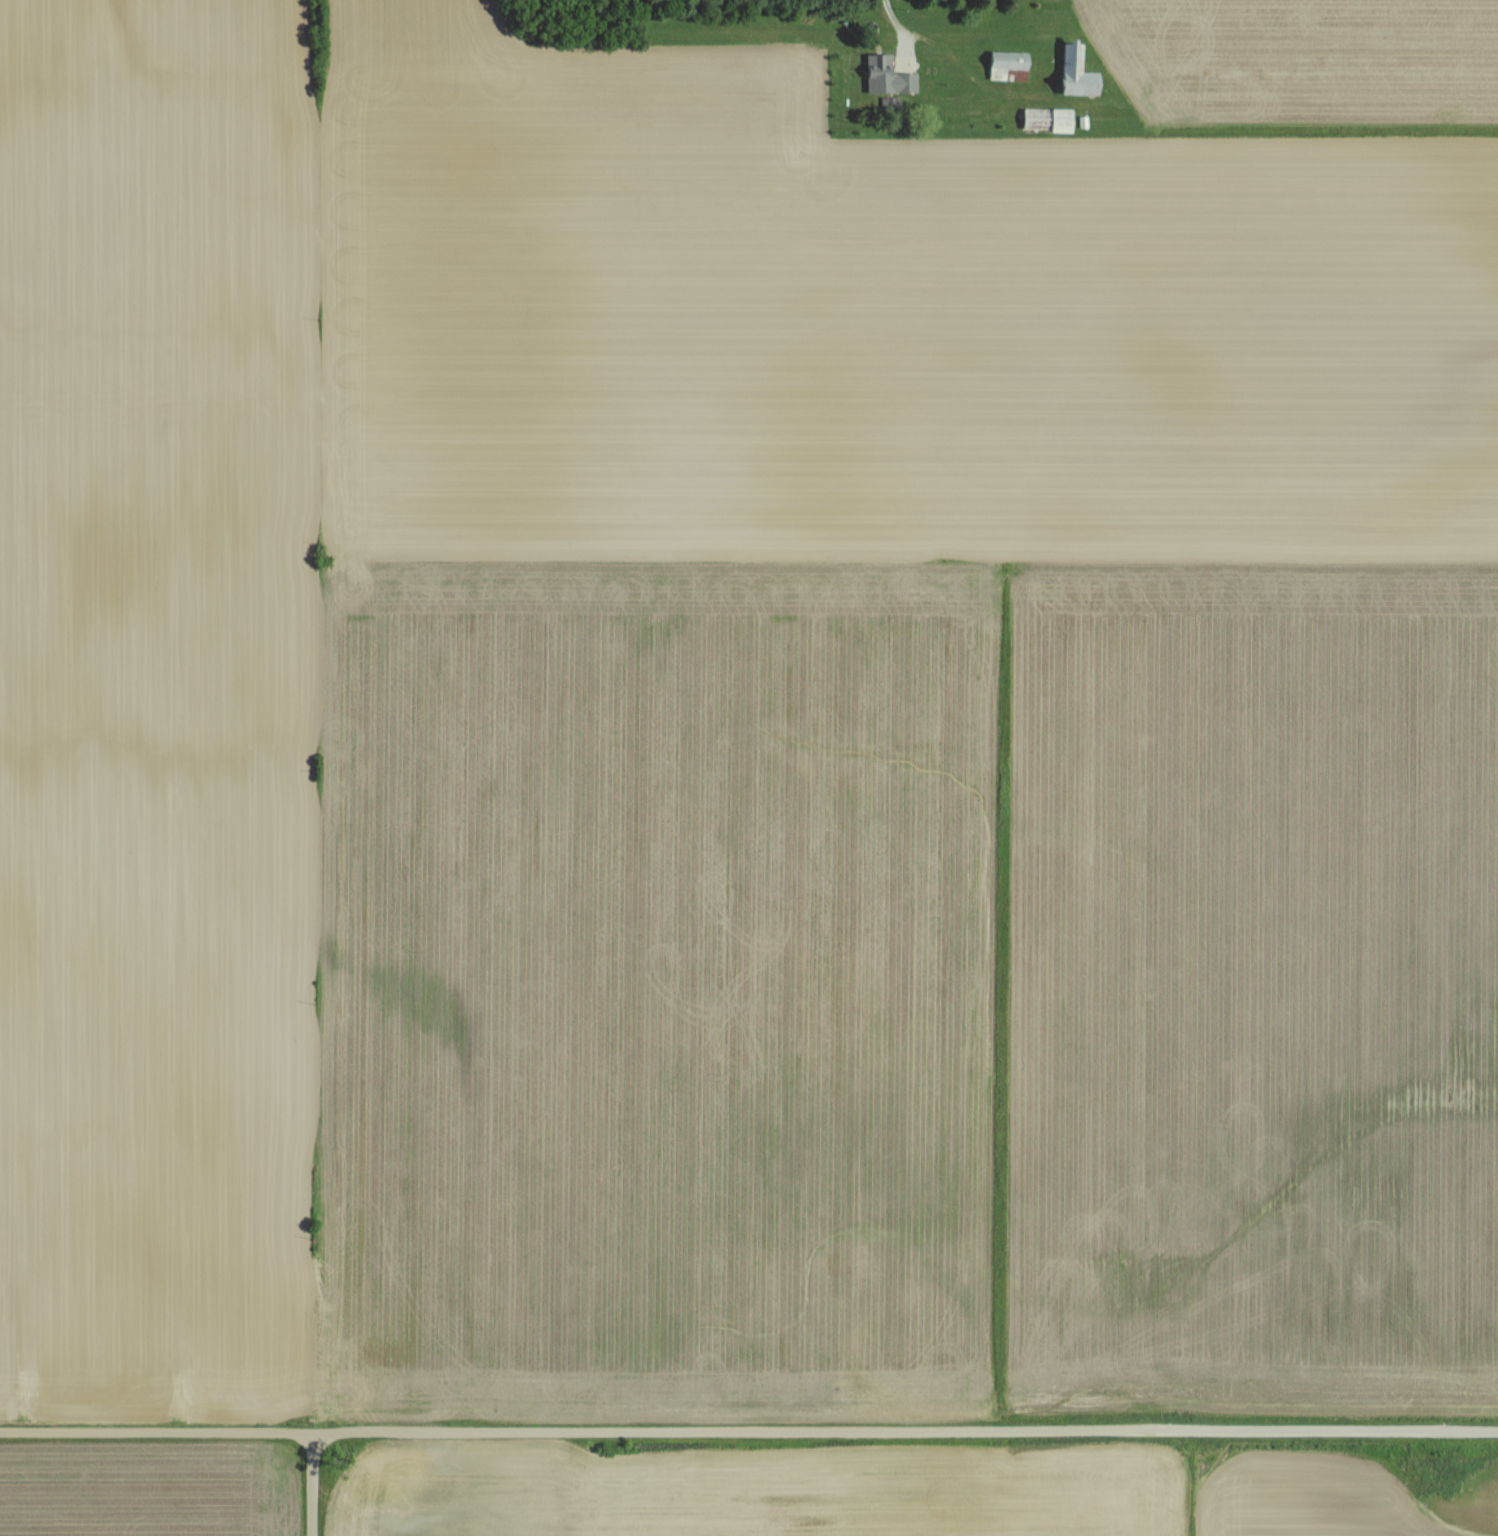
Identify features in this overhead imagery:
road: (890, 10)
road: (961, 94)
road: (900, 1447)
road: (151, 1453)
road: (301, 1495)

